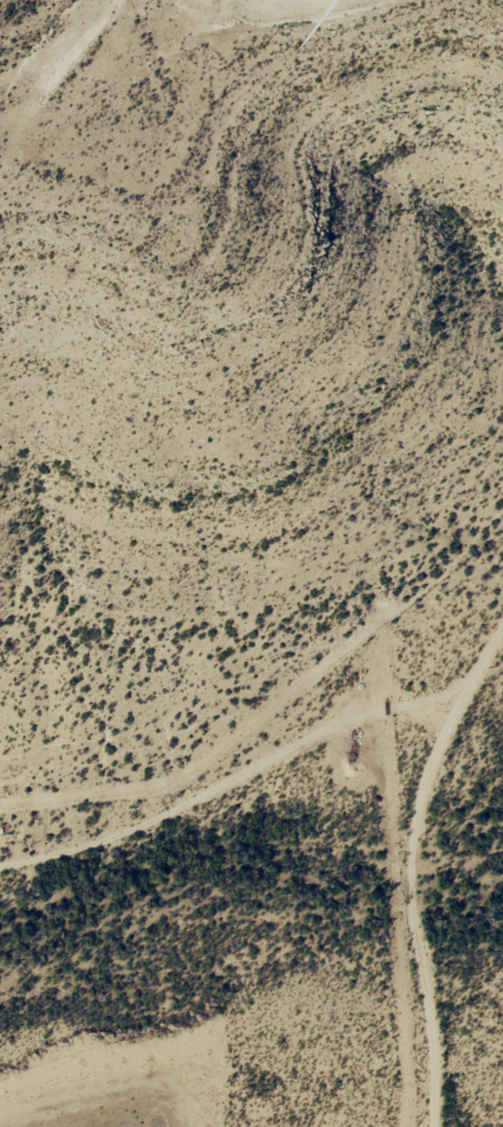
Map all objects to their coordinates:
road: (430, 874)

